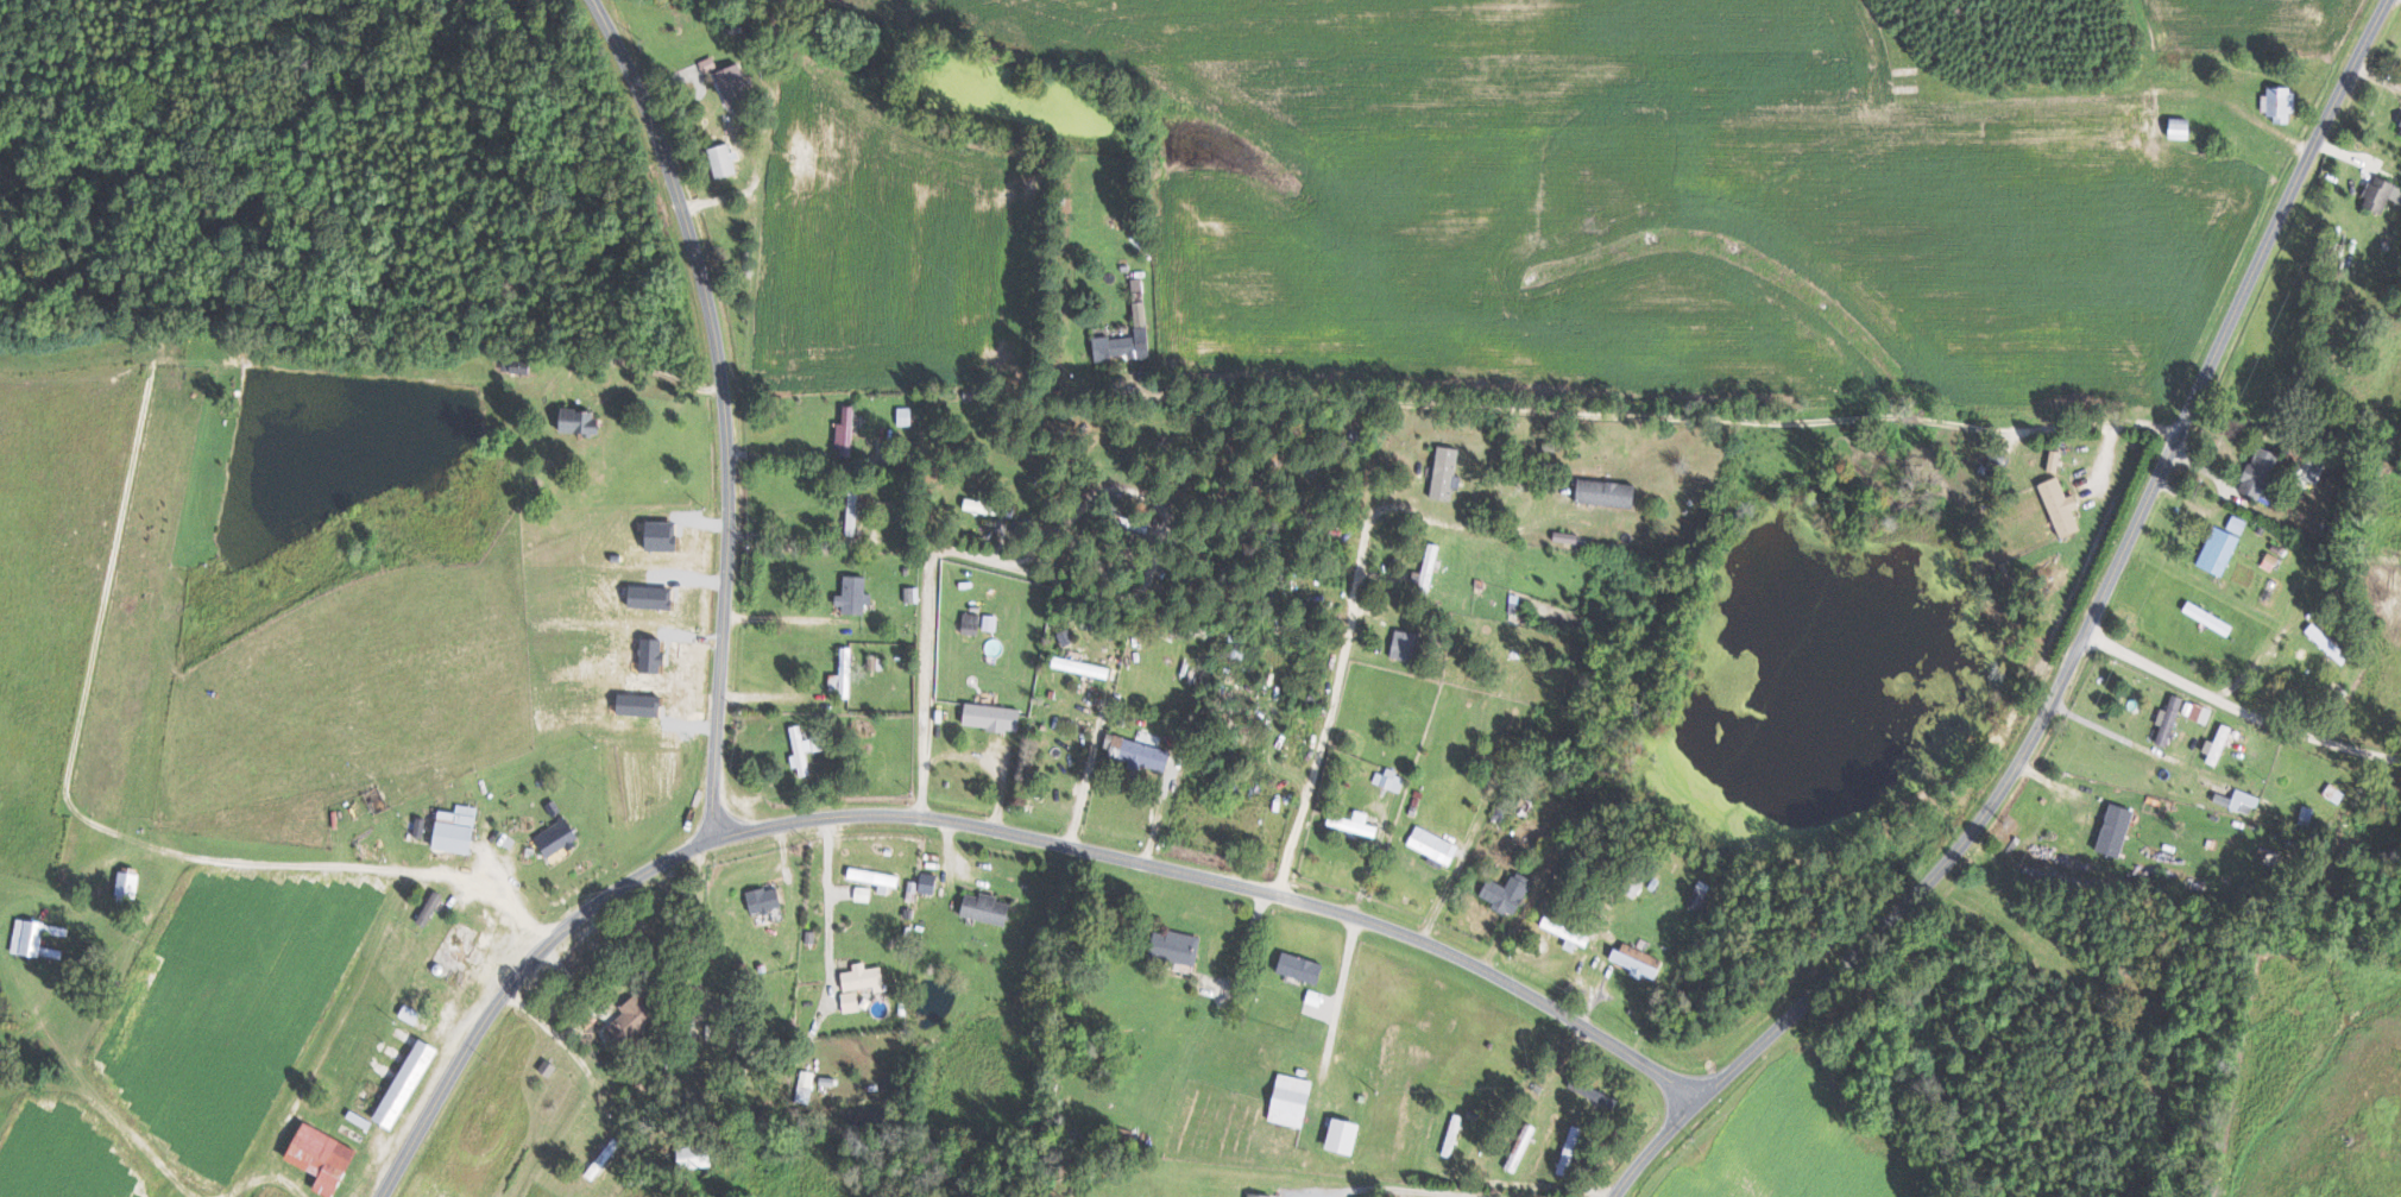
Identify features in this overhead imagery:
building: (708, 64)
building: (735, 84)
building: (2281, 103)
building: (2185, 130)
building: (724, 159)
building: (2383, 191)
building: (1129, 339)
road: (616, 361)
building: (519, 366)
road: (721, 410)
road: (1586, 414)
building: (906, 416)
building: (581, 420)
building: (847, 431)
road: (792, 458)
building: (2056, 460)
building: (1448, 472)
building: (2264, 472)
building: (1611, 492)
building: (989, 504)
building: (2063, 505)
road: (1423, 515)
road: (790, 538)
building: (2224, 546)
building: (2271, 560)
building: (1431, 566)
building: (857, 594)
building: (913, 594)
road: (787, 618)
building: (991, 622)
building: (972, 623)
building: (2330, 643)
building: (1405, 644)
road: (2075, 649)
road: (925, 655)
building: (875, 662)
building: (1084, 667)
building: (846, 674)
road: (774, 695)
road: (2237, 710)
building: (995, 716)
building: (2180, 717)
building: (818, 743)
building: (2219, 744)
building: (802, 750)
building: (1139, 752)
road: (1321, 752)
road: (1085, 776)
building: (1392, 779)
building: (2246, 801)
building: (1356, 823)
building: (422, 826)
building: (459, 829)
road: (985, 831)
building: (559, 838)
building: (1433, 844)
road: (310, 865)
building: (877, 878)
building: (130, 884)
building: (924, 886)
road: (828, 893)
building: (1510, 895)
building: (1702, 897)
building: (765, 900)
building: (433, 907)
building: (988, 908)
building: (1569, 932)
building: (42, 939)
building: (1179, 946)
building: (1643, 962)
building: (1304, 968)
building: (866, 977)
road: (1340, 993)
building: (852, 1001)
building: (634, 1019)
road: (567, 1046)
building: (409, 1083)
building: (807, 1086)
building: (1595, 1091)
building: (1294, 1101)
building: (1454, 1134)
building: (1347, 1135)
building: (1523, 1147)
building: (1570, 1149)
building: (698, 1157)
building: (326, 1158)
road: (1403, 1187)
building: (1261, 1195)

